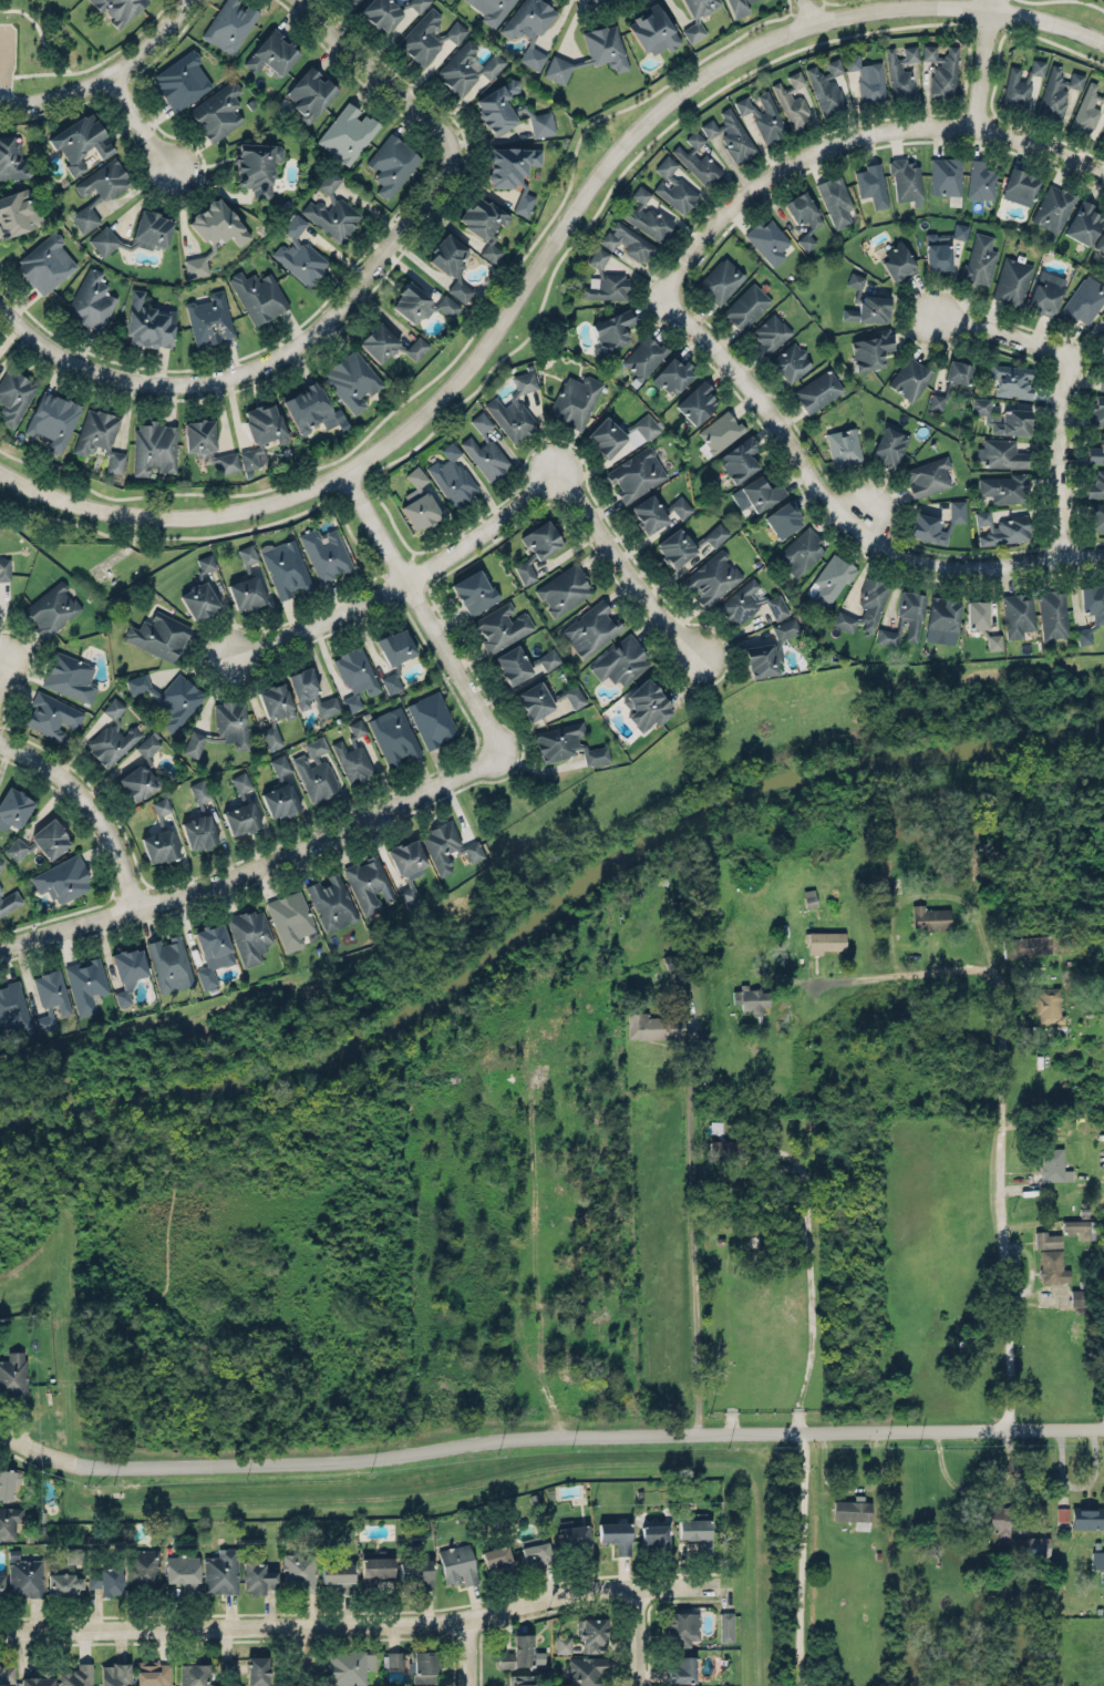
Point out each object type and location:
road: (1063, 0)
building: (699, 4)
building: (737, 7)
building: (118, 8)
building: (493, 9)
building: (386, 10)
road: (812, 10)
building: (530, 17)
building: (229, 24)
building: (653, 28)
building: (693, 31)
building: (429, 35)
building: (533, 51)
building: (271, 52)
building: (591, 53)
building: (910, 53)
road: (95, 61)
road: (980, 63)
building: (461, 65)
road: (379, 70)
building: (941, 70)
building: (897, 75)
building: (180, 79)
building: (867, 79)
road: (107, 81)
building: (1021, 83)
building: (826, 86)
building: (311, 92)
building: (1057, 92)
building: (792, 100)
building: (498, 105)
building: (1086, 107)
building: (217, 112)
building: (763, 116)
road: (148, 119)
building: (541, 124)
road: (849, 132)
building: (348, 133)
building: (730, 133)
building: (1102, 140)
building: (80, 142)
building: (697, 157)
building: (12, 160)
building: (392, 163)
building: (257, 164)
building: (666, 166)
building: (513, 169)
building: (946, 175)
building: (981, 178)
building: (104, 181)
building: (329, 182)
building: (906, 182)
building: (873, 183)
building: (1020, 183)
building: (675, 194)
building: (835, 202)
building: (1053, 207)
building: (18, 210)
building: (644, 215)
building: (803, 215)
building: (84, 217)
building: (331, 217)
building: (217, 222)
building: (485, 223)
building: (1083, 223)
building: (134, 233)
building: (767, 239)
building: (628, 240)
building: (1100, 241)
building: (941, 247)
road: (544, 248)
building: (300, 253)
building: (979, 259)
building: (898, 260)
building: (45, 264)
building: (451, 264)
building: (195, 266)
road: (553, 276)
building: (606, 279)
building: (720, 280)
building: (1013, 280)
building: (257, 294)
building: (1045, 294)
building: (90, 300)
building: (1083, 300)
building: (421, 301)
building: (745, 306)
building: (209, 319)
building: (148, 323)
road: (995, 323)
building: (611, 331)
building: (770, 335)
building: (1101, 340)
building: (389, 345)
building: (870, 350)
road: (269, 352)
building: (644, 356)
building: (791, 361)
building: (958, 372)
building: (673, 376)
building: (910, 377)
building: (351, 380)
building: (1011, 381)
building: (1101, 382)
building: (817, 391)
building: (14, 395)
building: (575, 400)
building: (936, 401)
building: (697, 402)
building: (515, 407)
building: (309, 408)
building: (1096, 411)
building: (1003, 417)
building: (53, 418)
building: (261, 430)
building: (718, 431)
building: (606, 432)
building: (99, 438)
building: (207, 444)
building: (484, 445)
building: (844, 445)
building: (889, 445)
building: (153, 448)
road: (1067, 451)
building: (1096, 451)
building: (1001, 454)
building: (739, 458)
building: (636, 473)
building: (453, 474)
building: (417, 475)
building: (927, 475)
building: (1096, 485)
building: (1005, 486)
building: (761, 491)
building: (681, 507)
building: (422, 508)
road: (837, 511)
building: (648, 514)
building: (1096, 516)
building: (783, 518)
building: (936, 524)
building: (1001, 528)
building: (687, 542)
building: (538, 546)
road: (621, 551)
building: (801, 551)
building: (326, 553)
building: (247, 555)
building: (4, 568)
building: (287, 568)
road: (407, 576)
building: (712, 576)
building: (833, 576)
building: (471, 585)
building: (564, 586)
building: (200, 589)
building: (246, 593)
building: (481, 600)
building: (750, 603)
building: (865, 605)
building: (52, 608)
building: (1091, 608)
building: (1051, 610)
road: (425, 611)
building: (976, 614)
building: (942, 615)
building: (1017, 615)
building: (905, 617)
building: (502, 626)
building: (591, 627)
building: (785, 628)
building: (158, 636)
building: (994, 641)
building: (395, 646)
building: (548, 659)
building: (762, 660)
building: (621, 661)
building: (512, 665)
road: (1, 671)
building: (355, 676)
building: (70, 677)
building: (391, 682)
building: (311, 691)
building: (169, 697)
building: (546, 698)
building: (647, 705)
building: (275, 710)
building: (52, 713)
building: (431, 719)
building: (221, 728)
building: (357, 728)
building: (112, 733)
building: (394, 734)
building: (568, 744)
building: (352, 761)
building: (142, 769)
building: (314, 771)
building: (240, 782)
building: (280, 790)
road: (91, 804)
building: (13, 808)
building: (240, 819)
building: (199, 820)
building: (159, 835)
building: (42, 840)
building: (448, 845)
building: (1, 863)
road: (256, 865)
building: (407, 866)
building: (64, 878)
building: (369, 883)
road: (927, 895)
building: (808, 897)
building: (9, 902)
building: (332, 902)
river: (548, 914)
building: (290, 918)
building: (929, 918)
building: (250, 934)
building: (825, 940)
building: (1025, 946)
building: (211, 953)
building: (169, 963)
building: (128, 969)
road: (857, 978)
building: (85, 984)
building: (51, 990)
building: (750, 998)
building: (1049, 1006)
building: (13, 1008)
building: (43, 1021)
building: (653, 1026)
road: (772, 1039)
building: (734, 1149)
building: (1053, 1165)
road: (1000, 1194)
road: (690, 1219)
building: (1079, 1228)
building: (1046, 1240)
road: (33, 1265)
building: (1053, 1267)
road: (811, 1294)
building: (1077, 1297)
road: (63, 1308)
building: (13, 1375)
road: (547, 1436)
road: (1022, 1476)
building: (8, 1482)
road: (853, 1488)
building: (852, 1510)
building: (1062, 1513)
building: (1085, 1518)
building: (9, 1521)
building: (1007, 1532)
building: (698, 1533)
building: (617, 1534)
building: (653, 1536)
building: (572, 1538)
building: (534, 1551)
building: (74, 1554)
building: (496, 1559)
road: (801, 1560)
building: (1096, 1560)
building: (458, 1564)
building: (142, 1566)
building: (182, 1567)
building: (378, 1567)
building: (299, 1571)
building: (220, 1572)
building: (417, 1572)
building: (336, 1573)
building: (24, 1576)
building: (258, 1576)
building: (105, 1580)
building: (64, 1582)
building: (1, 1585)
road: (362, 1623)
building: (726, 1626)
building: (683, 1627)
building: (592, 1635)
road: (641, 1636)
building: (563, 1644)
road: (472, 1651)
building: (517, 1652)
road: (305, 1655)
building: (392, 1659)
building: (227, 1666)
building: (424, 1666)
building: (350, 1667)
building: (681, 1669)
building: (257, 1670)
building: (585, 1670)
building: (153, 1673)
building: (113, 1674)
building: (193, 1674)
building: (41, 1675)
building: (6, 1676)
building: (76, 1676)
building: (522, 1679)

